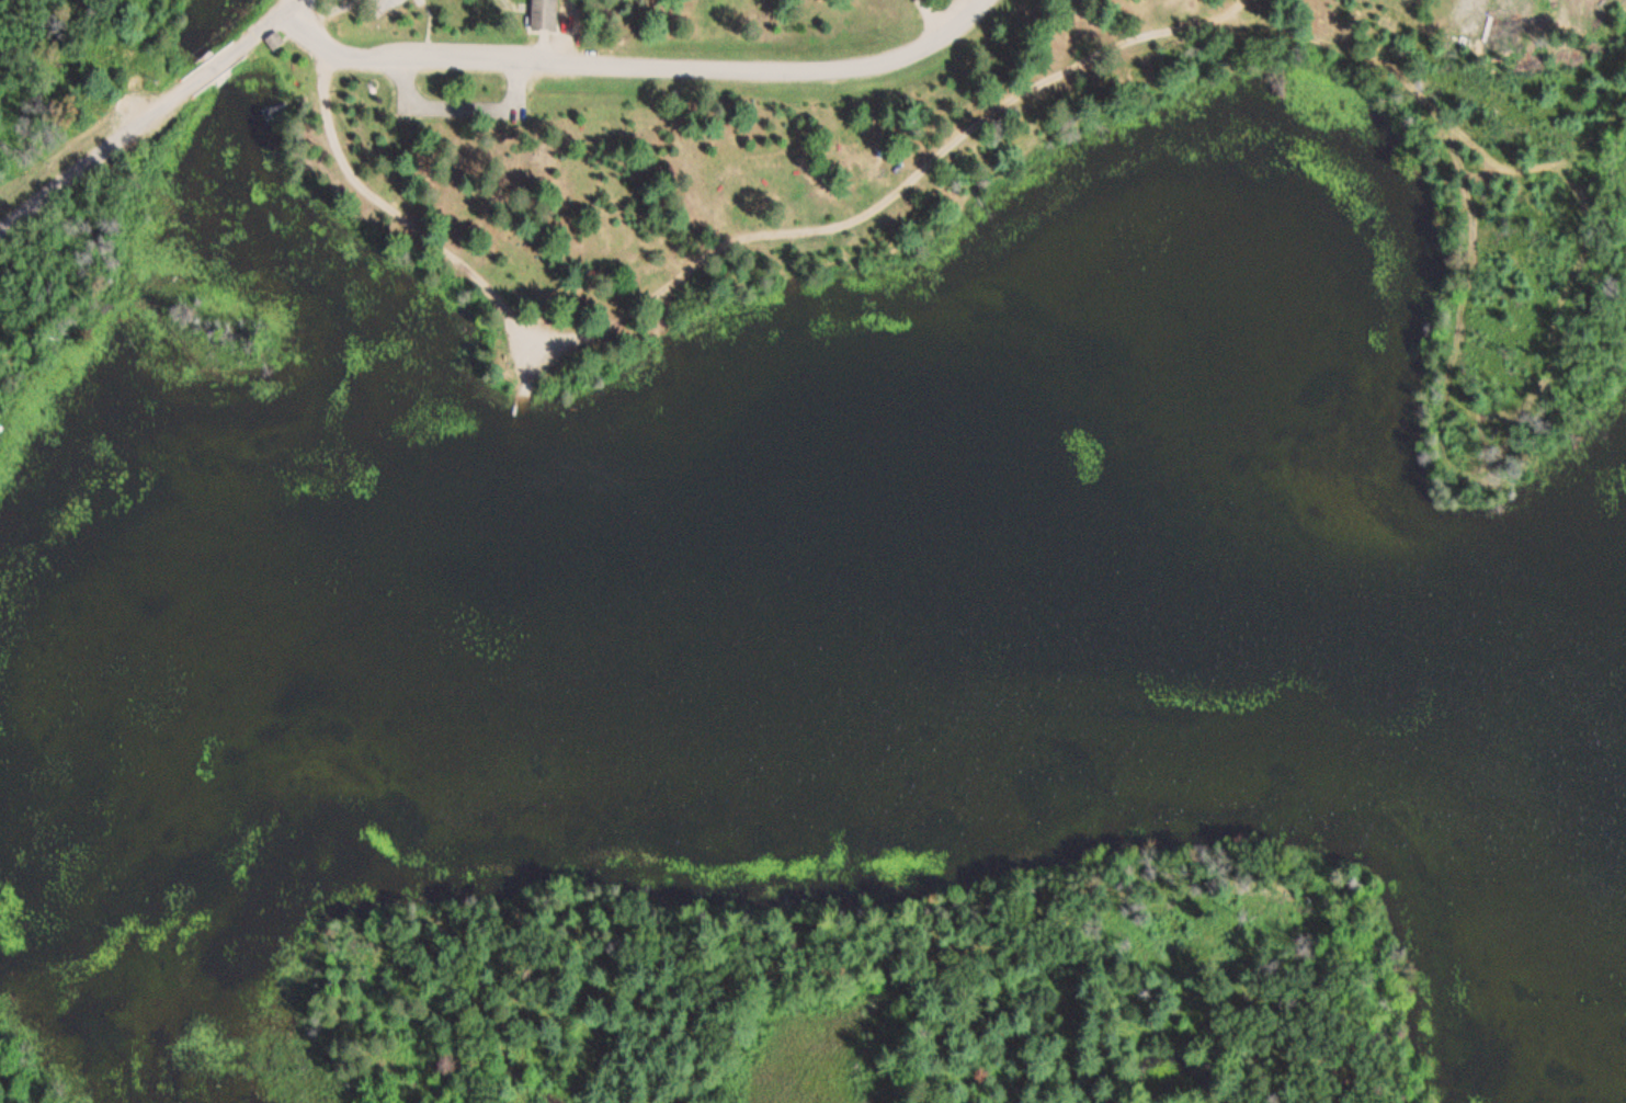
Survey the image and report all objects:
building: (546, 14)
road: (623, 62)
road: (138, 120)
park: (934, 156)

